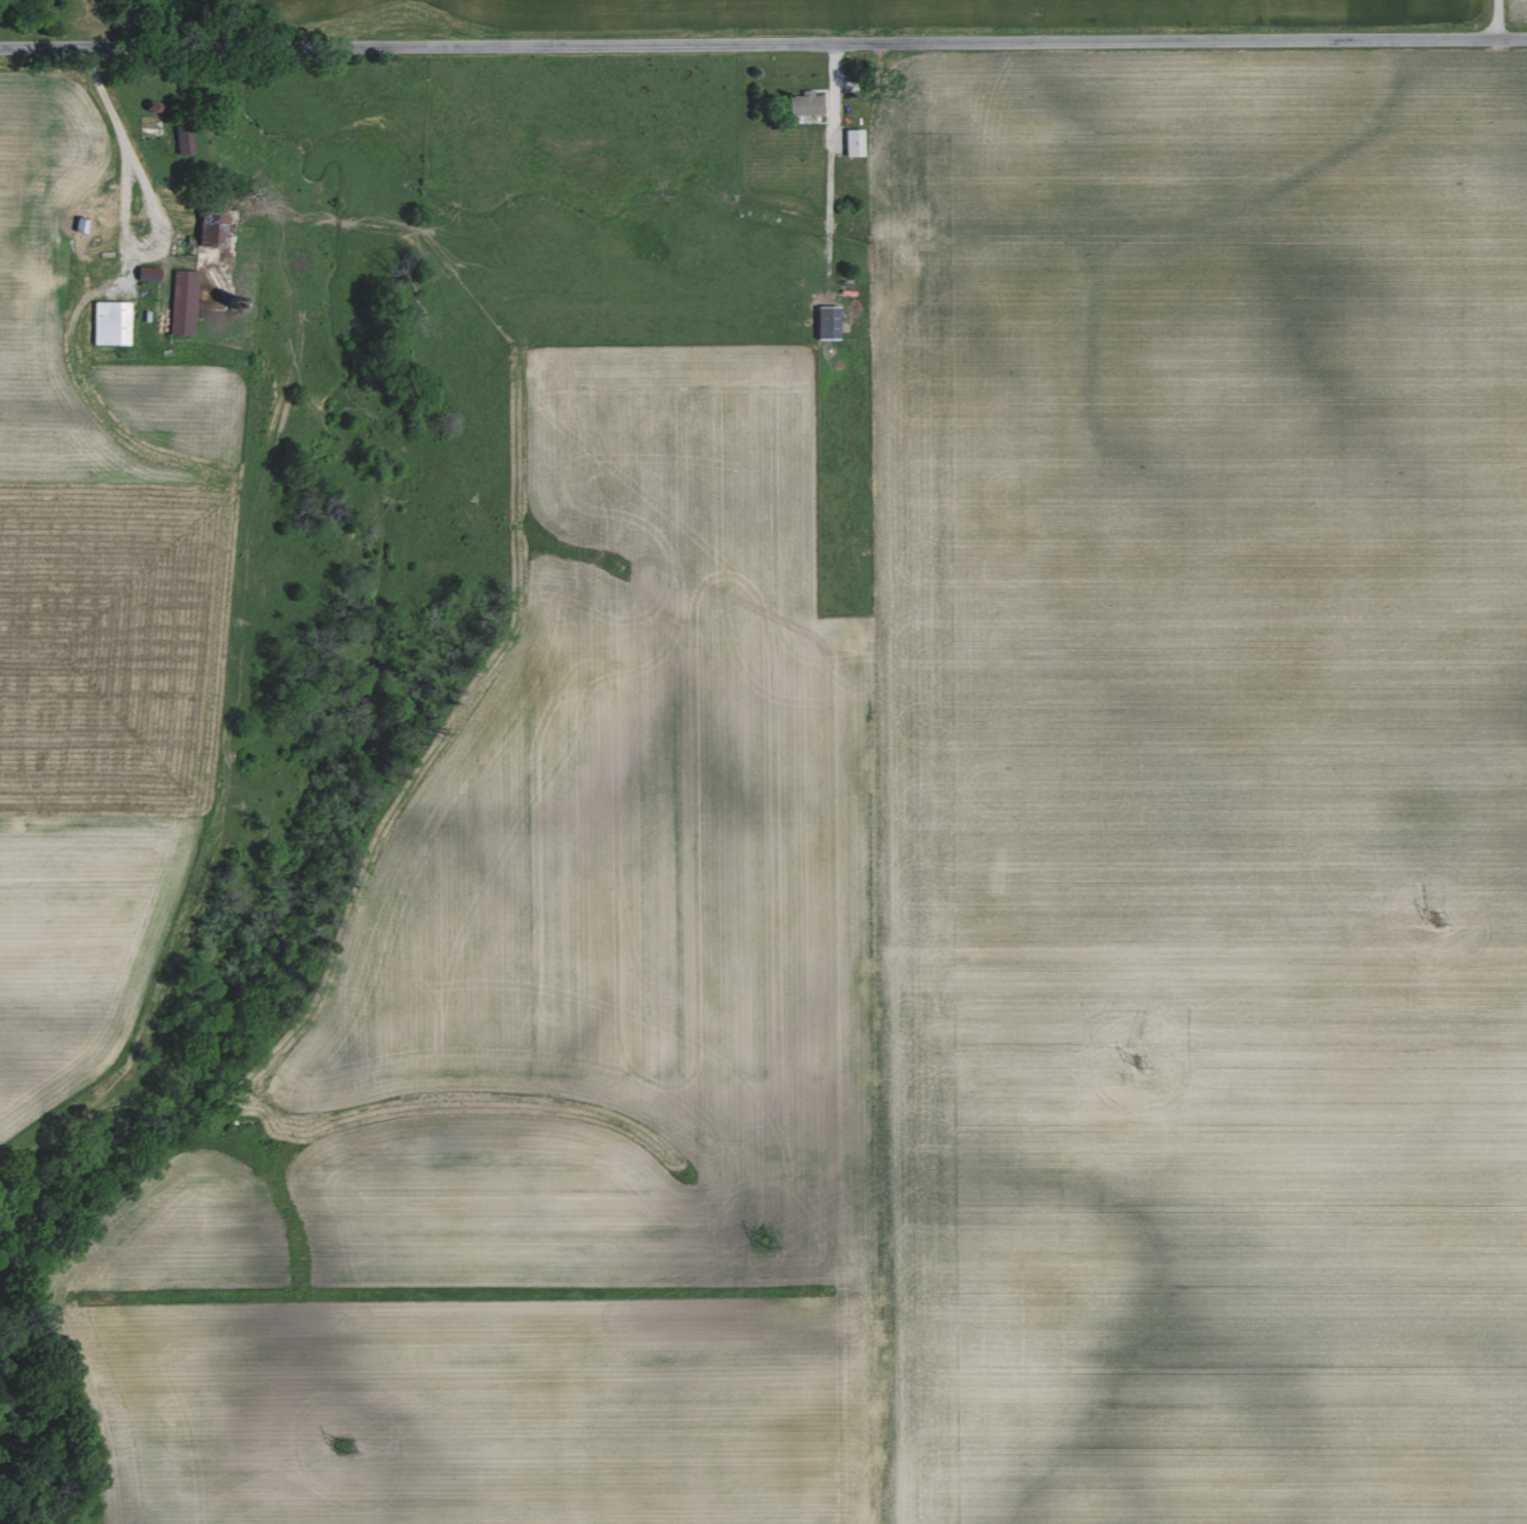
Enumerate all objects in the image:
road: (1500, 19)
road: (763, 30)
building: (809, 104)
building: (856, 142)
road: (830, 150)
road: (155, 199)
building: (185, 302)
building: (831, 322)
building: (113, 323)
power tower: (1431, 920)
power tower: (1133, 1063)
power tower: (764, 1244)
power tower: (342, 1448)

